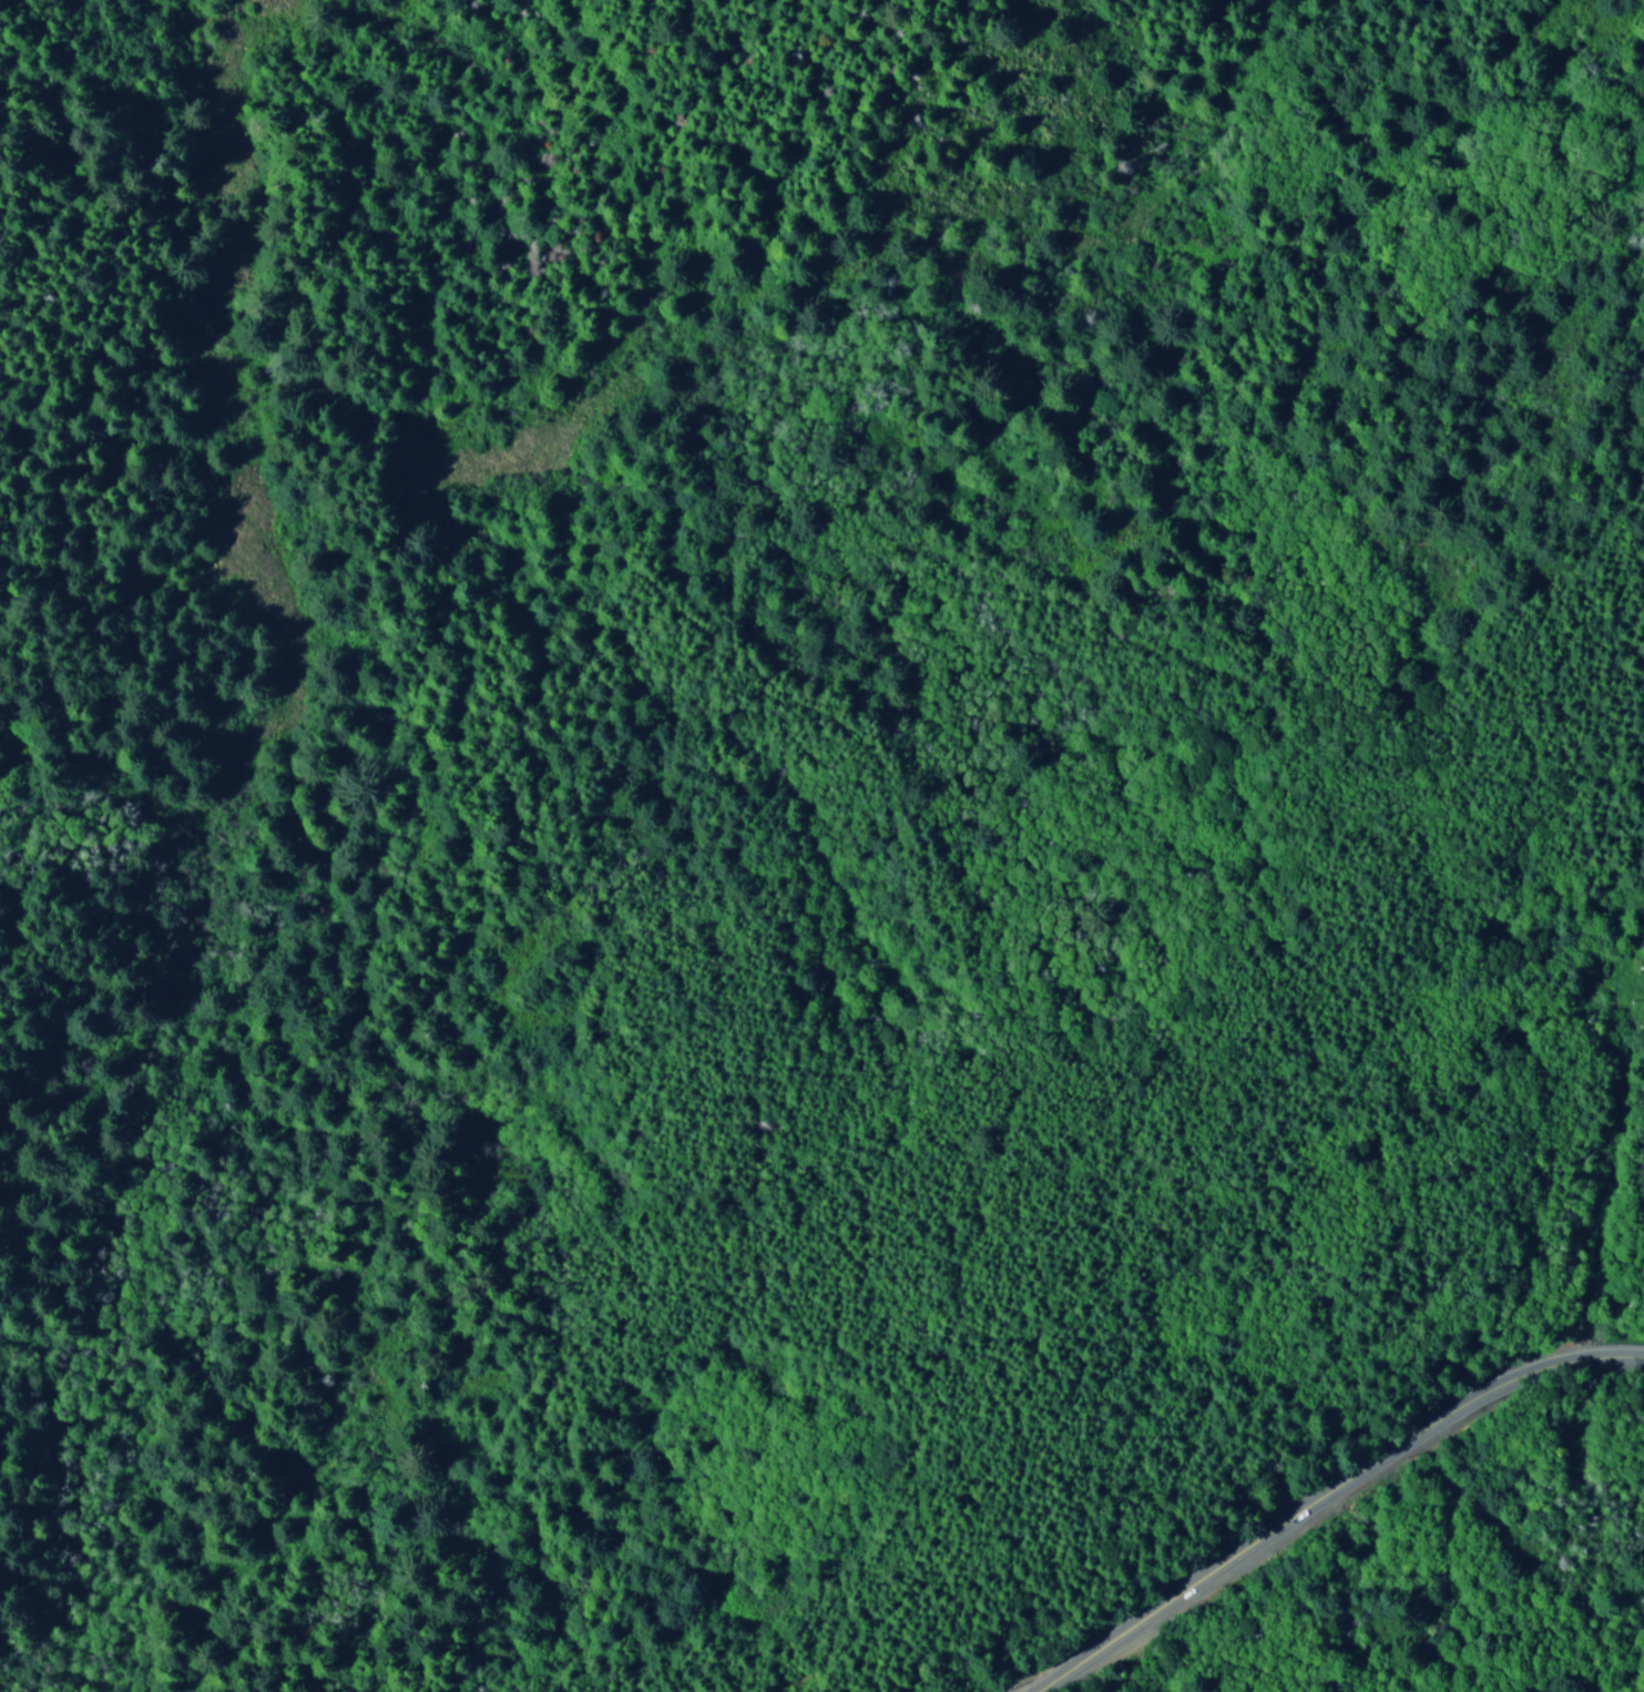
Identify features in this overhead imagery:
road: (1318, 1492)

